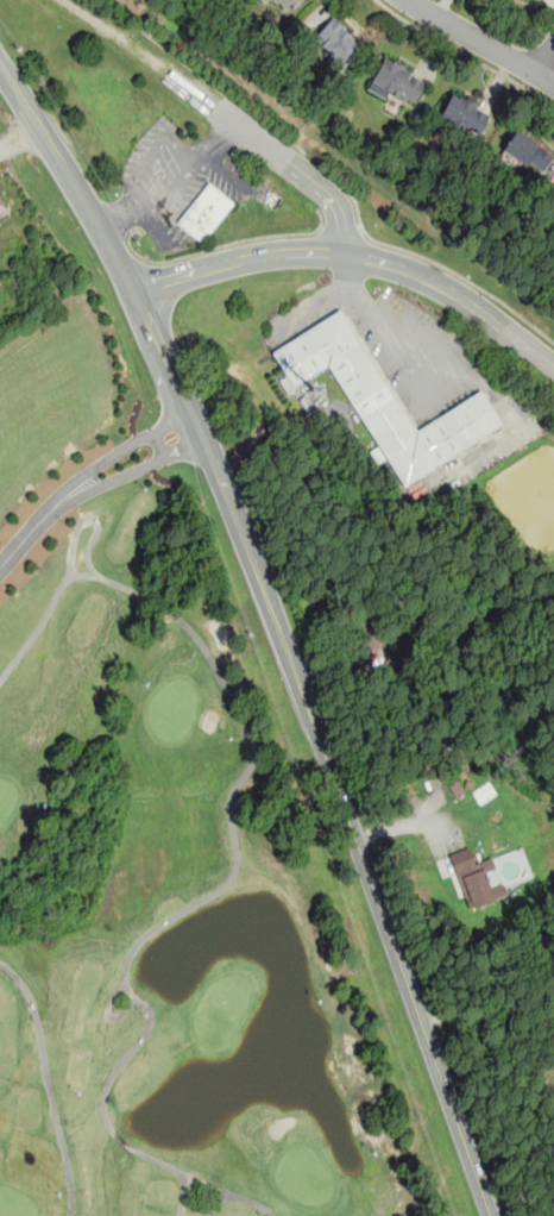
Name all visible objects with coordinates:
building: (264, 0)
building: (288, 4)
road: (481, 42)
building: (335, 43)
road: (464, 52)
road: (143, 54)
road: (546, 58)
building: (397, 80)
road: (18, 95)
building: (465, 114)
road: (18, 132)
building: (528, 150)
road: (140, 170)
road: (295, 173)
road: (225, 174)
road: (172, 187)
road: (86, 206)
building: (204, 212)
road: (340, 228)
road: (218, 245)
road: (408, 251)
road: (269, 256)
road: (483, 306)
road: (378, 319)
building: (383, 399)
road: (87, 482)
road: (322, 748)
road: (409, 822)
park: (159, 854)
building: (476, 879)
road: (512, 995)
road: (446, 1016)
road: (512, 1016)
road: (522, 1201)

